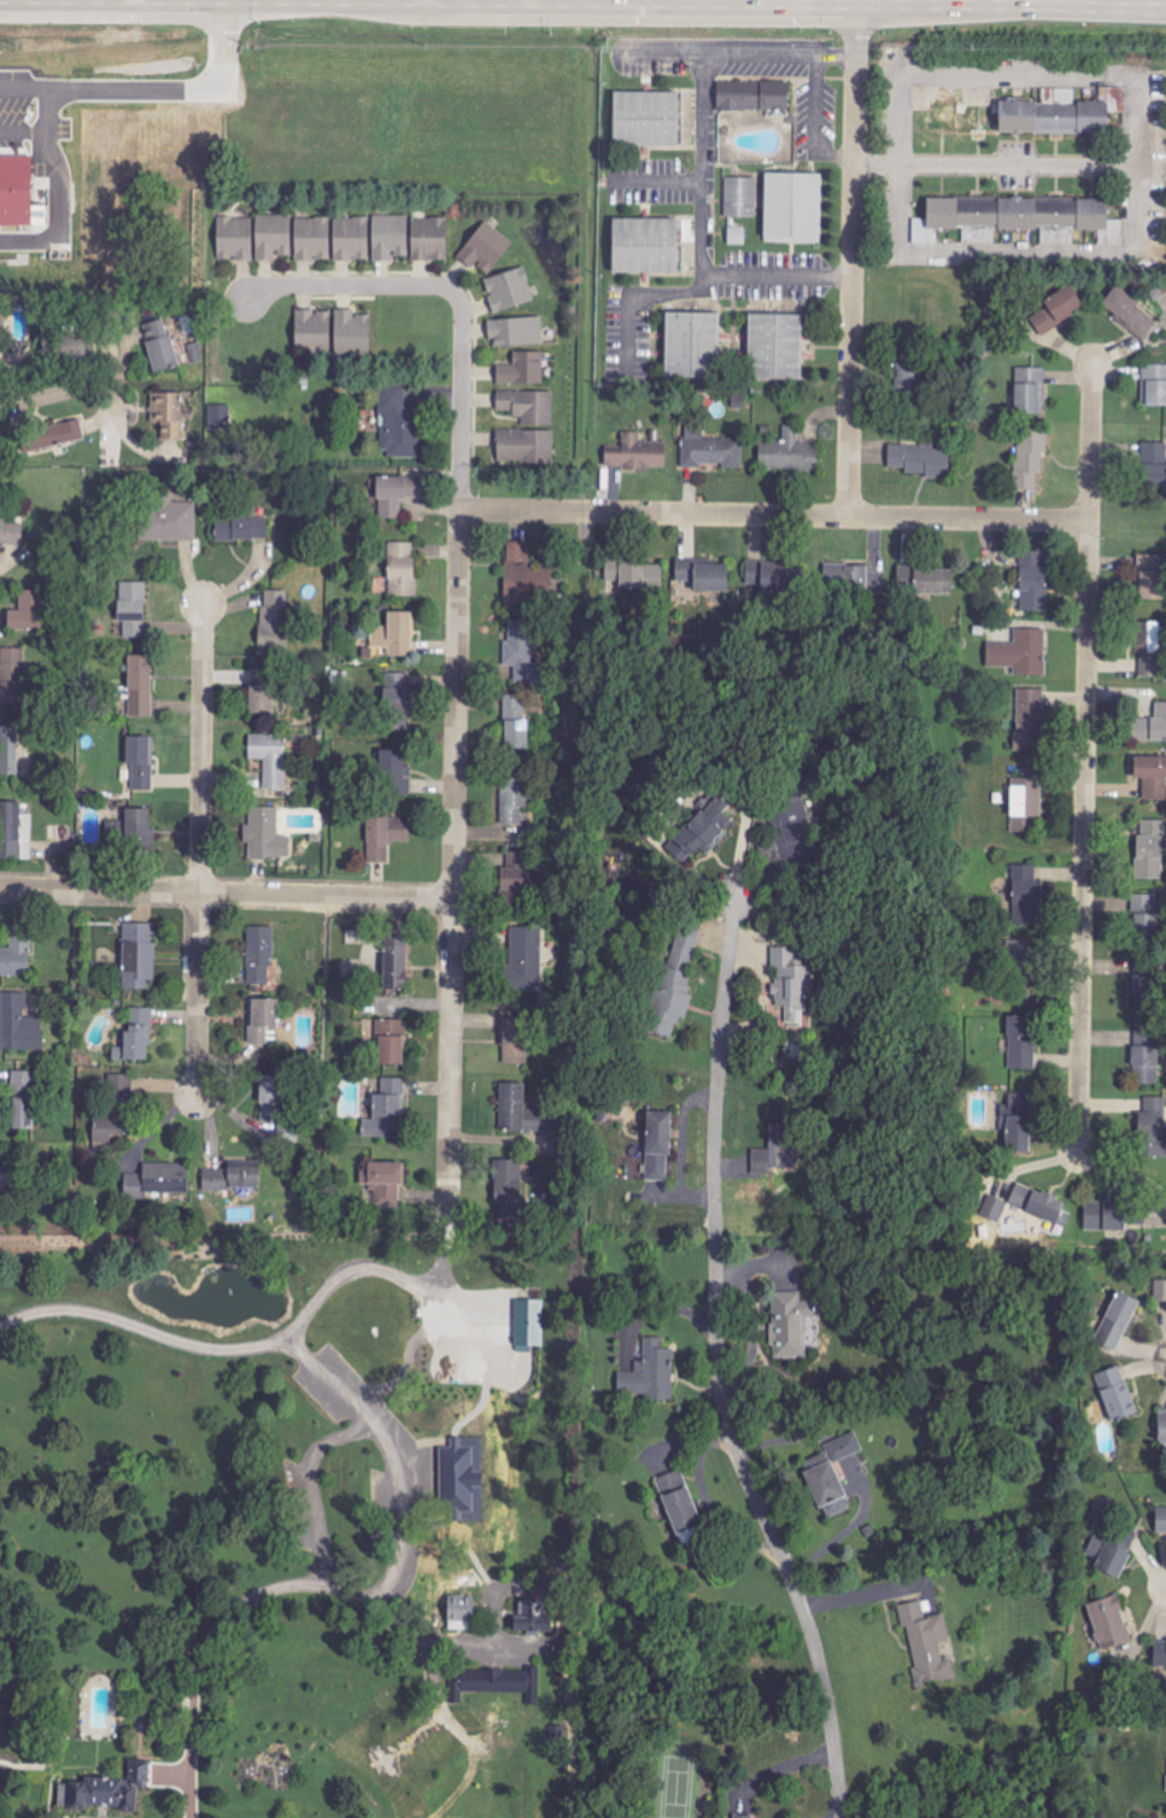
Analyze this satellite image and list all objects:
road: (805, 1)
road: (696, 2)
road: (1065, 71)
road: (78, 88)
building: (752, 95)
building: (1060, 115)
building: (645, 118)
road: (898, 118)
building: (16, 137)
road: (704, 165)
road: (986, 165)
road: (660, 178)
building: (18, 194)
building: (740, 197)
building: (792, 206)
road: (896, 207)
building: (1016, 217)
building: (273, 236)
building: (389, 236)
building: (234, 239)
building: (312, 239)
building: (351, 239)
building: (429, 239)
building: (644, 246)
building: (486, 247)
road: (1057, 254)
road: (852, 260)
road: (352, 286)
building: (509, 289)
building: (1057, 309)
building: (1127, 311)
building: (312, 330)
building: (516, 332)
building: (352, 333)
building: (159, 345)
building: (691, 345)
building: (775, 347)
building: (522, 369)
building: (908, 371)
building: (1154, 385)
building: (1030, 389)
road: (58, 393)
road: (459, 401)
building: (527, 405)
building: (166, 416)
building: (222, 417)
building: (399, 424)
building: (51, 435)
building: (525, 446)
building: (711, 450)
building: (638, 453)
building: (789, 453)
building: (1030, 456)
building: (920, 461)
building: (1154, 464)
building: (397, 494)
road: (775, 516)
building: (168, 520)
building: (241, 528)
building: (402, 569)
building: (522, 571)
building: (703, 575)
building: (634, 576)
building: (1152, 577)
building: (761, 580)
building: (860, 580)
building: (1033, 581)
building: (932, 583)
building: (131, 602)
building: (27, 611)
building: (277, 618)
building: (397, 634)
building: (1149, 649)
building: (1020, 652)
building: (522, 653)
building: (13, 676)
building: (140, 686)
building: (262, 693)
building: (395, 704)
building: (1031, 720)
building: (516, 722)
building: (1152, 726)
building: (8, 751)
building: (270, 758)
road: (1085, 760)
building: (140, 762)
building: (394, 774)
building: (1152, 776)
building: (512, 793)
building: (1026, 800)
building: (795, 827)
building: (139, 828)
building: (704, 828)
building: (10, 831)
building: (265, 835)
building: (385, 837)
building: (1150, 849)
road: (200, 851)
road: (452, 867)
building: (515, 876)
road: (224, 892)
building: (1026, 896)
building: (1144, 917)
building: (1024, 940)
building: (16, 955)
building: (139, 956)
building: (259, 956)
building: (526, 958)
building: (394, 960)
building: (675, 983)
building: (793, 987)
building: (1147, 992)
building: (263, 1021)
building: (18, 1025)
building: (136, 1037)
building: (515, 1040)
building: (391, 1042)
building: (1021, 1043)
building: (1146, 1057)
building: (23, 1095)
building: (273, 1097)
building: (385, 1109)
building: (520, 1112)
building: (115, 1113)
building: (1016, 1122)
building: (1152, 1126)
building: (654, 1144)
building: (774, 1154)
building: (1, 1163)
building: (233, 1178)
building: (157, 1183)
building: (385, 1183)
building: (506, 1189)
building: (1037, 1203)
building: (992, 1210)
building: (1105, 1216)
road: (365, 1265)
building: (1160, 1290)
building: (1117, 1323)
building: (529, 1325)
building: (790, 1325)
road: (304, 1350)
road: (717, 1368)
building: (651, 1374)
building: (1117, 1395)
building: (1162, 1431)
building: (844, 1447)
building: (462, 1479)
road: (310, 1484)
building: (825, 1486)
building: (678, 1502)
building: (1161, 1521)
building: (1109, 1555)
road: (244, 1599)
building: (461, 1612)
building: (531, 1619)
building: (1109, 1623)
building: (927, 1643)
building: (1159, 1661)
building: (503, 1682)
building: (107, 1789)
building: (744, 1816)

